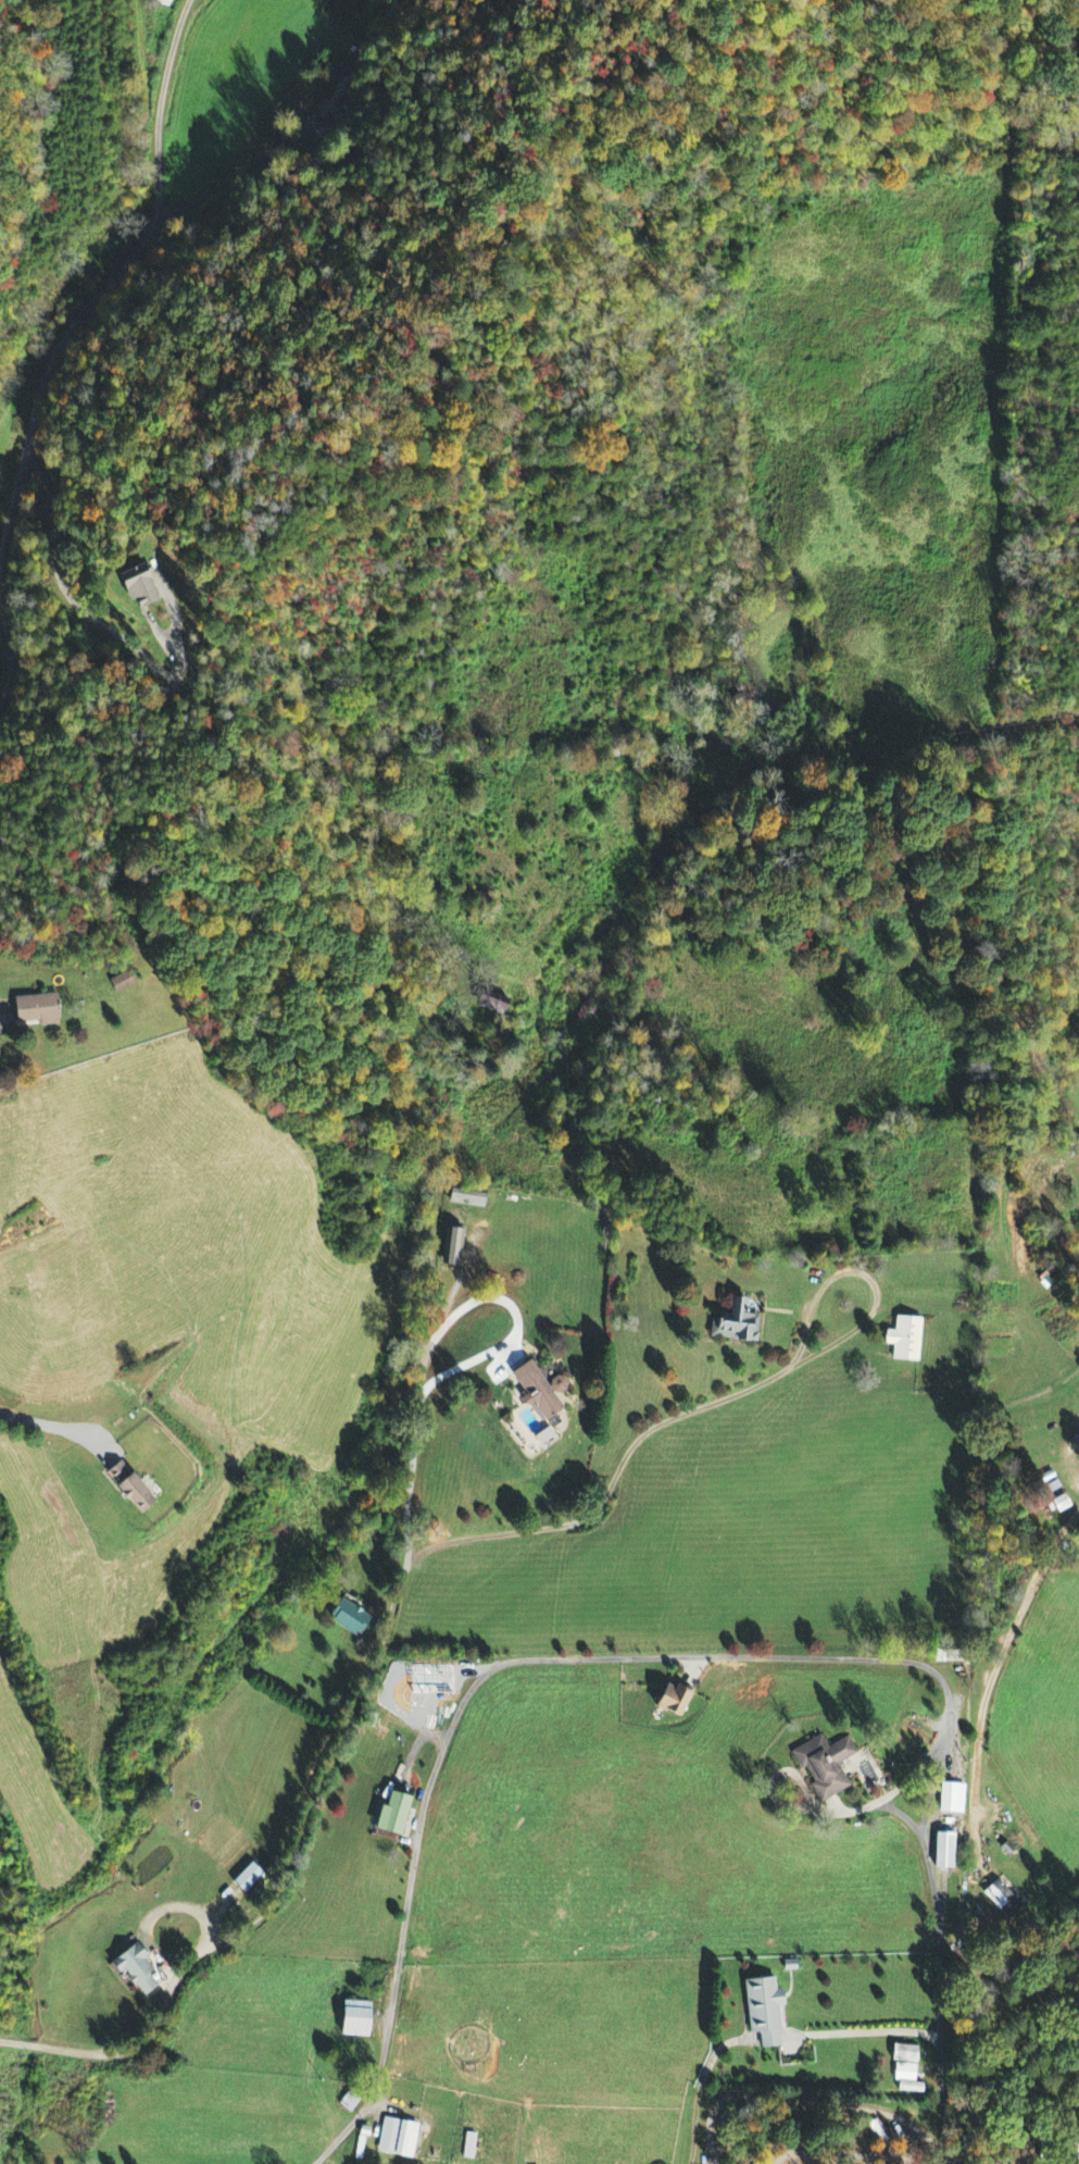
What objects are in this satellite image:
building: (156, 1)
road: (106, 357)
building: (136, 588)
building: (121, 983)
building: (41, 1009)
building: (466, 1199)
building: (448, 1248)
building: (732, 1324)
building: (902, 1341)
building: (537, 1391)
road: (714, 1404)
road: (48, 1427)
building: (137, 1488)
building: (1053, 1505)
building: (348, 1618)
road: (527, 1657)
road: (1000, 1659)
building: (667, 1701)
road: (340, 1731)
building: (817, 1767)
building: (948, 1800)
building: (389, 1816)
building: (940, 1853)
building: (252, 1878)
building: (1000, 1900)
building: (140, 1969)
road: (941, 1976)
building: (761, 2011)
building: (350, 2019)
road: (12, 2041)
road: (32, 2044)
building: (904, 2069)
building: (394, 2138)
building: (467, 2147)

